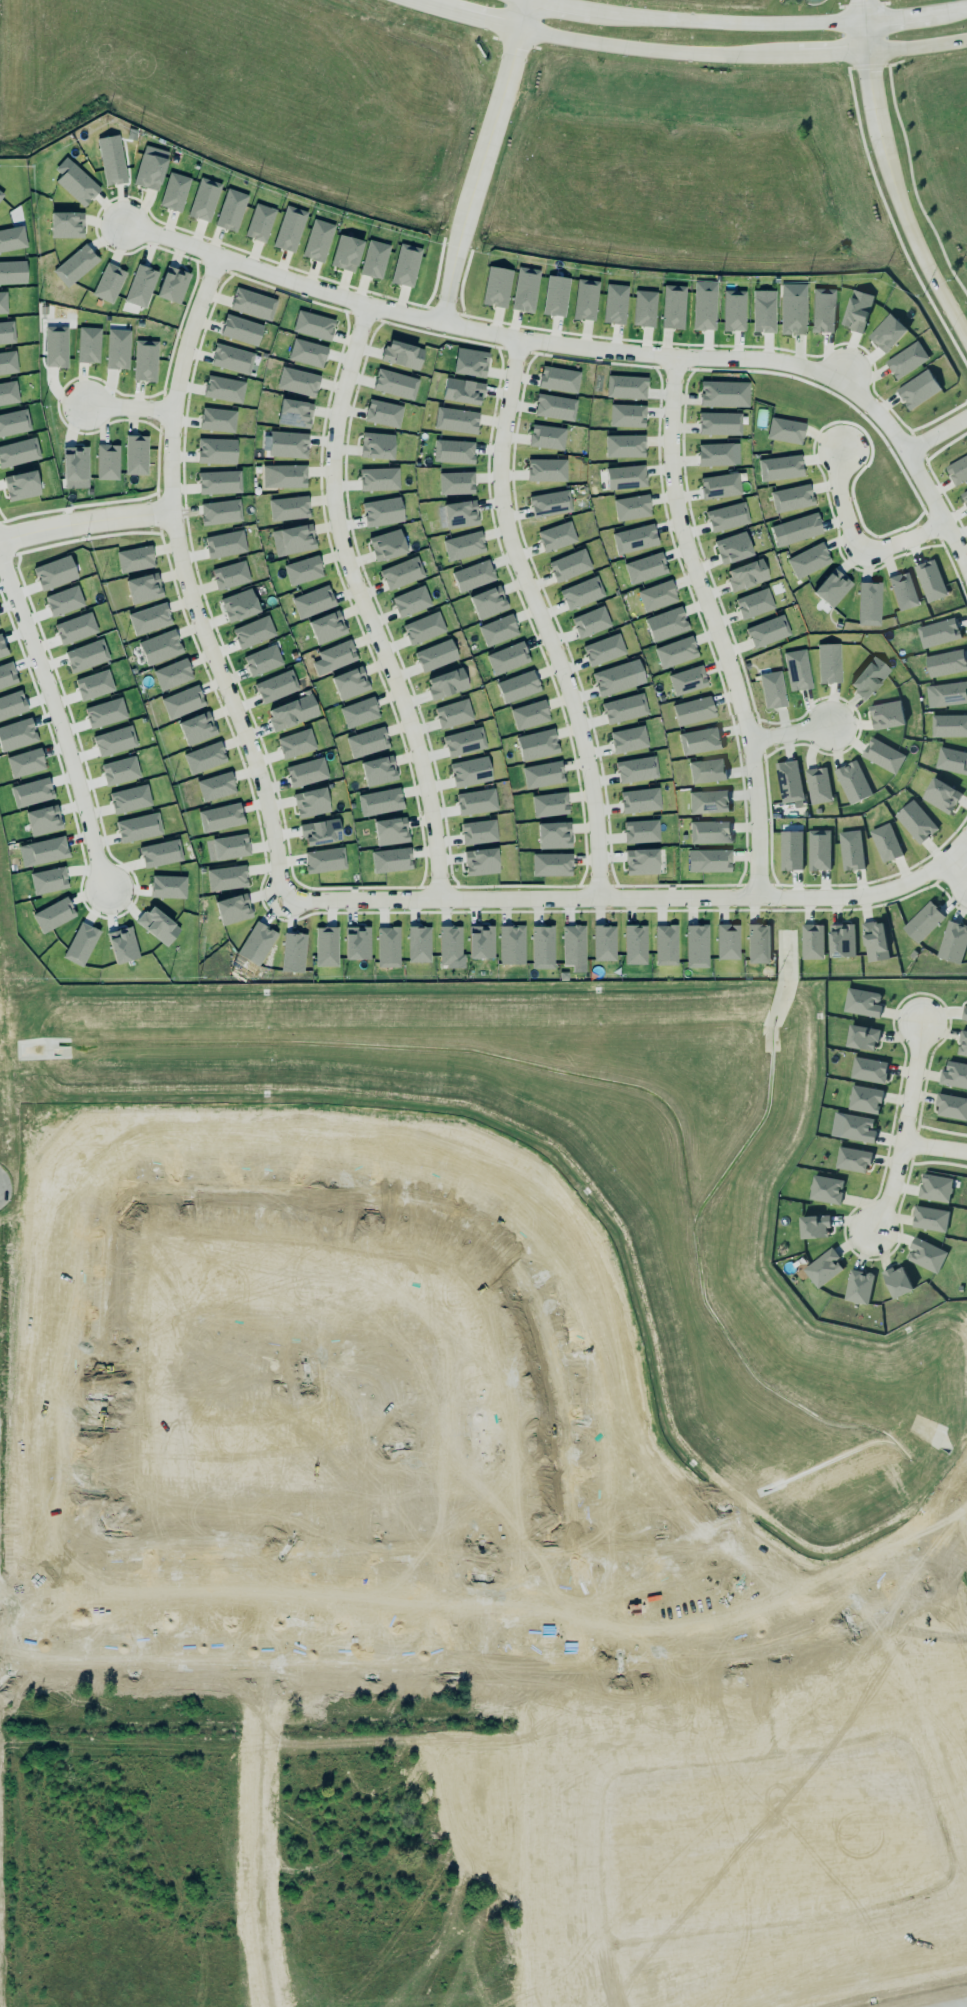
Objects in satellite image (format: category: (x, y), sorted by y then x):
road: (857, 11)
road: (746, 23)
road: (860, 37)
road: (683, 54)
building: (112, 160)
road: (480, 160)
building: (150, 167)
building: (76, 184)
building: (175, 192)
building: (1, 195)
building: (204, 199)
road: (899, 201)
building: (231, 210)
building: (260, 223)
building: (67, 225)
building: (290, 229)
building: (12, 239)
building: (318, 240)
building: (346, 251)
building: (374, 259)
building: (75, 265)
building: (405, 265)
building: (12, 273)
building: (109, 283)
building: (173, 285)
building: (496, 285)
building: (139, 289)
building: (525, 289)
building: (556, 296)
building: (585, 300)
building: (3, 303)
building: (253, 304)
building: (615, 304)
building: (704, 306)
building: (673, 307)
building: (791, 307)
building: (644, 308)
building: (734, 310)
building: (823, 310)
building: (857, 310)
building: (764, 311)
building: (313, 325)
building: (886, 329)
building: (241, 330)
building: (6, 333)
building: (89, 345)
building: (56, 347)
road: (588, 347)
building: (118, 349)
building: (306, 351)
building: (400, 353)
building: (232, 358)
building: (907, 359)
building: (7, 360)
building: (145, 361)
building: (470, 362)
building: (559, 379)
building: (298, 382)
building: (395, 384)
building: (626, 386)
building: (918, 386)
building: (224, 389)
building: (463, 391)
building: (8, 393)
building: (724, 393)
road: (128, 407)
building: (555, 407)
building: (382, 412)
building: (295, 413)
building: (626, 414)
building: (218, 420)
building: (456, 420)
building: (717, 421)
building: (14, 422)
building: (785, 430)
road: (936, 434)
building: (547, 437)
building: (288, 444)
building: (377, 446)
building: (625, 446)
building: (217, 451)
building: (454, 451)
building: (18, 452)
building: (134, 453)
building: (715, 453)
building: (108, 462)
building: (75, 467)
building: (781, 468)
building: (957, 469)
building: (546, 470)
building: (284, 476)
building: (626, 477)
building: (379, 479)
building: (220, 482)
building: (456, 483)
building: (21, 485)
building: (720, 485)
building: (964, 496)
building: (792, 498)
building: (550, 504)
building: (289, 508)
building: (632, 508)
building: (221, 512)
building: (382, 512)
building: (460, 514)
building: (728, 516)
road: (85, 522)
building: (796, 530)
building: (557, 536)
building: (633, 536)
building: (293, 540)
building: (224, 542)
building: (387, 545)
building: (463, 546)
road: (857, 546)
building: (733, 548)
building: (135, 559)
building: (809, 560)
building: (570, 565)
building: (645, 568)
building: (304, 570)
building: (400, 571)
building: (745, 572)
building: (55, 573)
building: (231, 575)
building: (473, 576)
building: (930, 580)
road: (187, 581)
building: (831, 585)
building: (144, 588)
building: (903, 591)
building: (580, 592)
building: (657, 596)
building: (64, 601)
building: (411, 601)
building: (313, 602)
building: (488, 602)
road: (364, 603)
building: (754, 603)
building: (869, 603)
building: (240, 604)
road: (541, 617)
building: (149, 618)
building: (591, 622)
building: (666, 624)
road: (716, 625)
building: (327, 627)
building: (75, 628)
building: (424, 628)
building: (498, 630)
building: (252, 631)
building: (768, 631)
building: (938, 632)
building: (160, 647)
building: (2, 648)
building: (604, 649)
building: (674, 650)
building: (435, 653)
building: (85, 654)
building: (336, 655)
building: (508, 658)
building: (263, 660)
building: (946, 662)
building: (829, 663)
building: (797, 668)
building: (173, 674)
building: (7, 675)
building: (869, 677)
building: (687, 678)
building: (614, 679)
building: (350, 683)
building: (447, 683)
building: (94, 685)
building: (276, 686)
building: (518, 687)
building: (772, 690)
building: (947, 694)
building: (183, 702)
building: (12, 704)
building: (624, 707)
building: (693, 711)
building: (292, 712)
building: (359, 712)
building: (105, 713)
building: (453, 713)
building: (530, 715)
building: (886, 715)
building: (195, 725)
building: (949, 725)
road: (58, 726)
road: (789, 732)
building: (17, 734)
building: (627, 737)
building: (115, 741)
building: (464, 741)
building: (700, 741)
building: (295, 742)
building: (367, 742)
building: (536, 743)
building: (883, 755)
building: (205, 758)
building: (952, 760)
building: (25, 762)
building: (635, 767)
building: (120, 770)
building: (707, 770)
building: (378, 771)
building: (470, 771)
building: (307, 772)
building: (542, 773)
building: (851, 779)
building: (789, 781)
building: (818, 785)
building: (216, 786)
building: (31, 792)
building: (941, 795)
building: (639, 798)
building: (130, 799)
building: (476, 801)
building: (708, 801)
building: (311, 802)
building: (380, 802)
building: (550, 804)
building: (41, 817)
building: (221, 817)
building: (916, 821)
building: (137, 826)
building: (639, 828)
building: (391, 831)
building: (321, 832)
building: (479, 832)
building: (709, 832)
building: (554, 835)
building: (886, 842)
building: (228, 847)
building: (819, 849)
building: (851, 849)
building: (46, 850)
building: (791, 850)
building: (160, 853)
building: (325, 860)
building: (391, 860)
building: (709, 860)
building: (480, 862)
building: (641, 862)
building: (551, 864)
road: (958, 866)
building: (227, 878)
building: (48, 880)
building: (168, 887)
road: (633, 897)
building: (233, 909)
building: (53, 915)
building: (923, 921)
building: (157, 925)
building: (840, 937)
building: (479, 939)
building: (357, 940)
building: (602, 940)
building: (120, 941)
building: (728, 941)
building: (812, 941)
building: (875, 941)
building: (511, 942)
building: (633, 942)
building: (665, 942)
building: (953, 942)
building: (257, 943)
building: (759, 943)
building: (81, 944)
building: (419, 944)
building: (542, 945)
building: (326, 946)
building: (697, 946)
building: (388, 947)
building: (451, 947)
building: (574, 947)
building: (293, 952)
building: (861, 1002)
building: (964, 1013)
building: (862, 1036)
building: (963, 1043)
building: (869, 1069)
building: (953, 1073)
building: (865, 1099)
building: (951, 1104)
building: (857, 1128)
road: (904, 1128)
road: (934, 1147)
building: (852, 1159)
building: (935, 1187)
building: (826, 1189)
building: (930, 1218)
building: (814, 1226)
building: (926, 1254)
building: (823, 1268)
building: (897, 1281)
building: (858, 1286)
road: (101, 1319)
road: (384, 1381)
road: (480, 1606)
road: (747, 1650)
road: (239, 1657)
road: (769, 1702)
road: (757, 1757)
road: (935, 1806)
road: (603, 1890)
road: (787, 1922)

